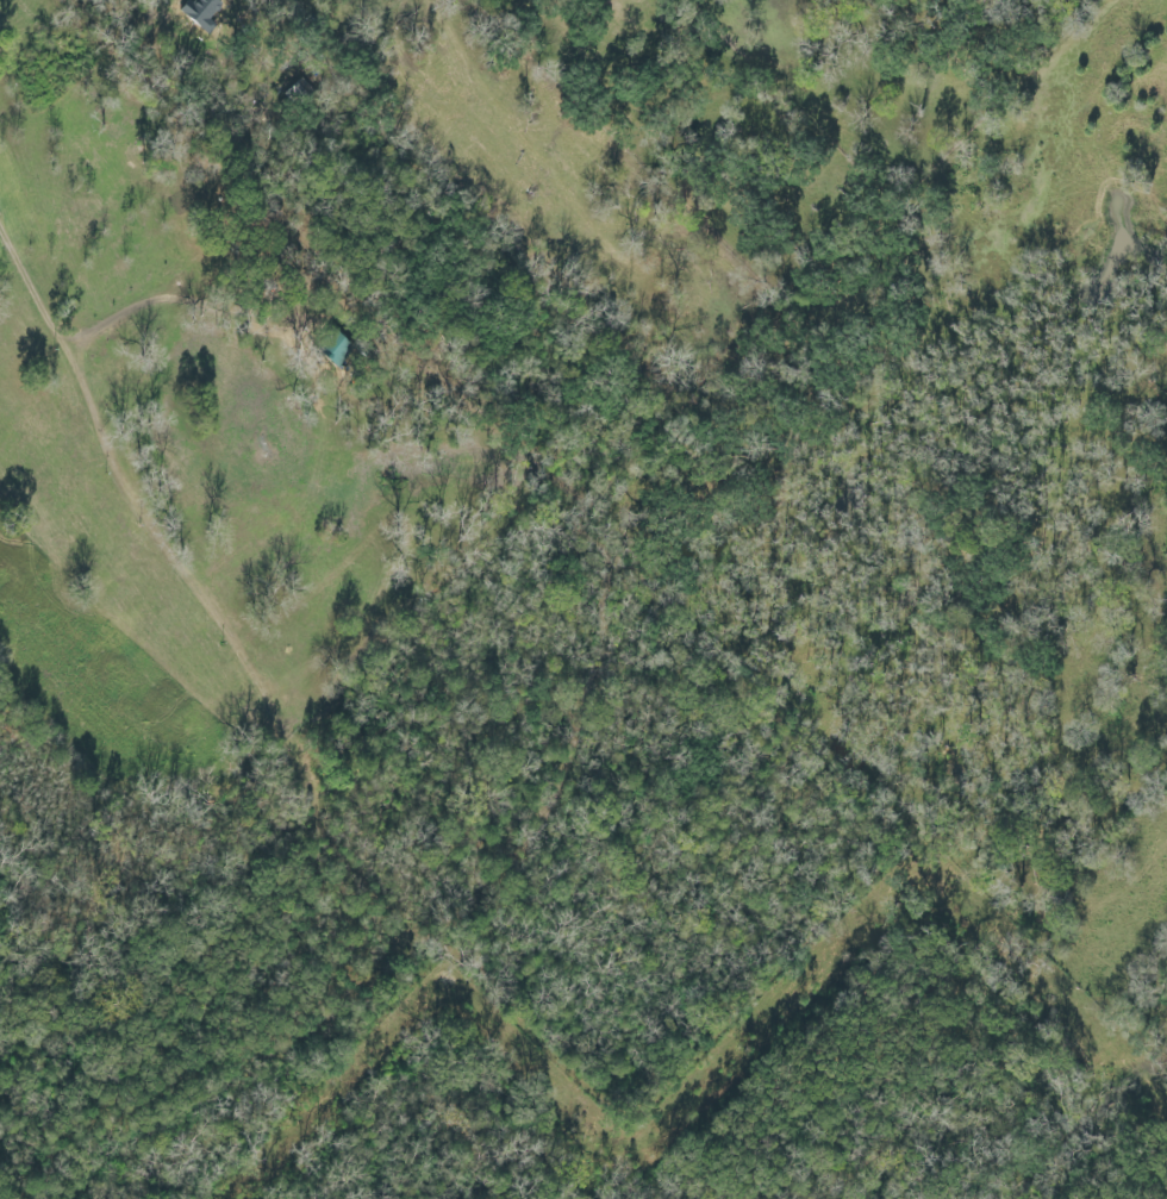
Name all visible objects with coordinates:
road: (138, 510)

